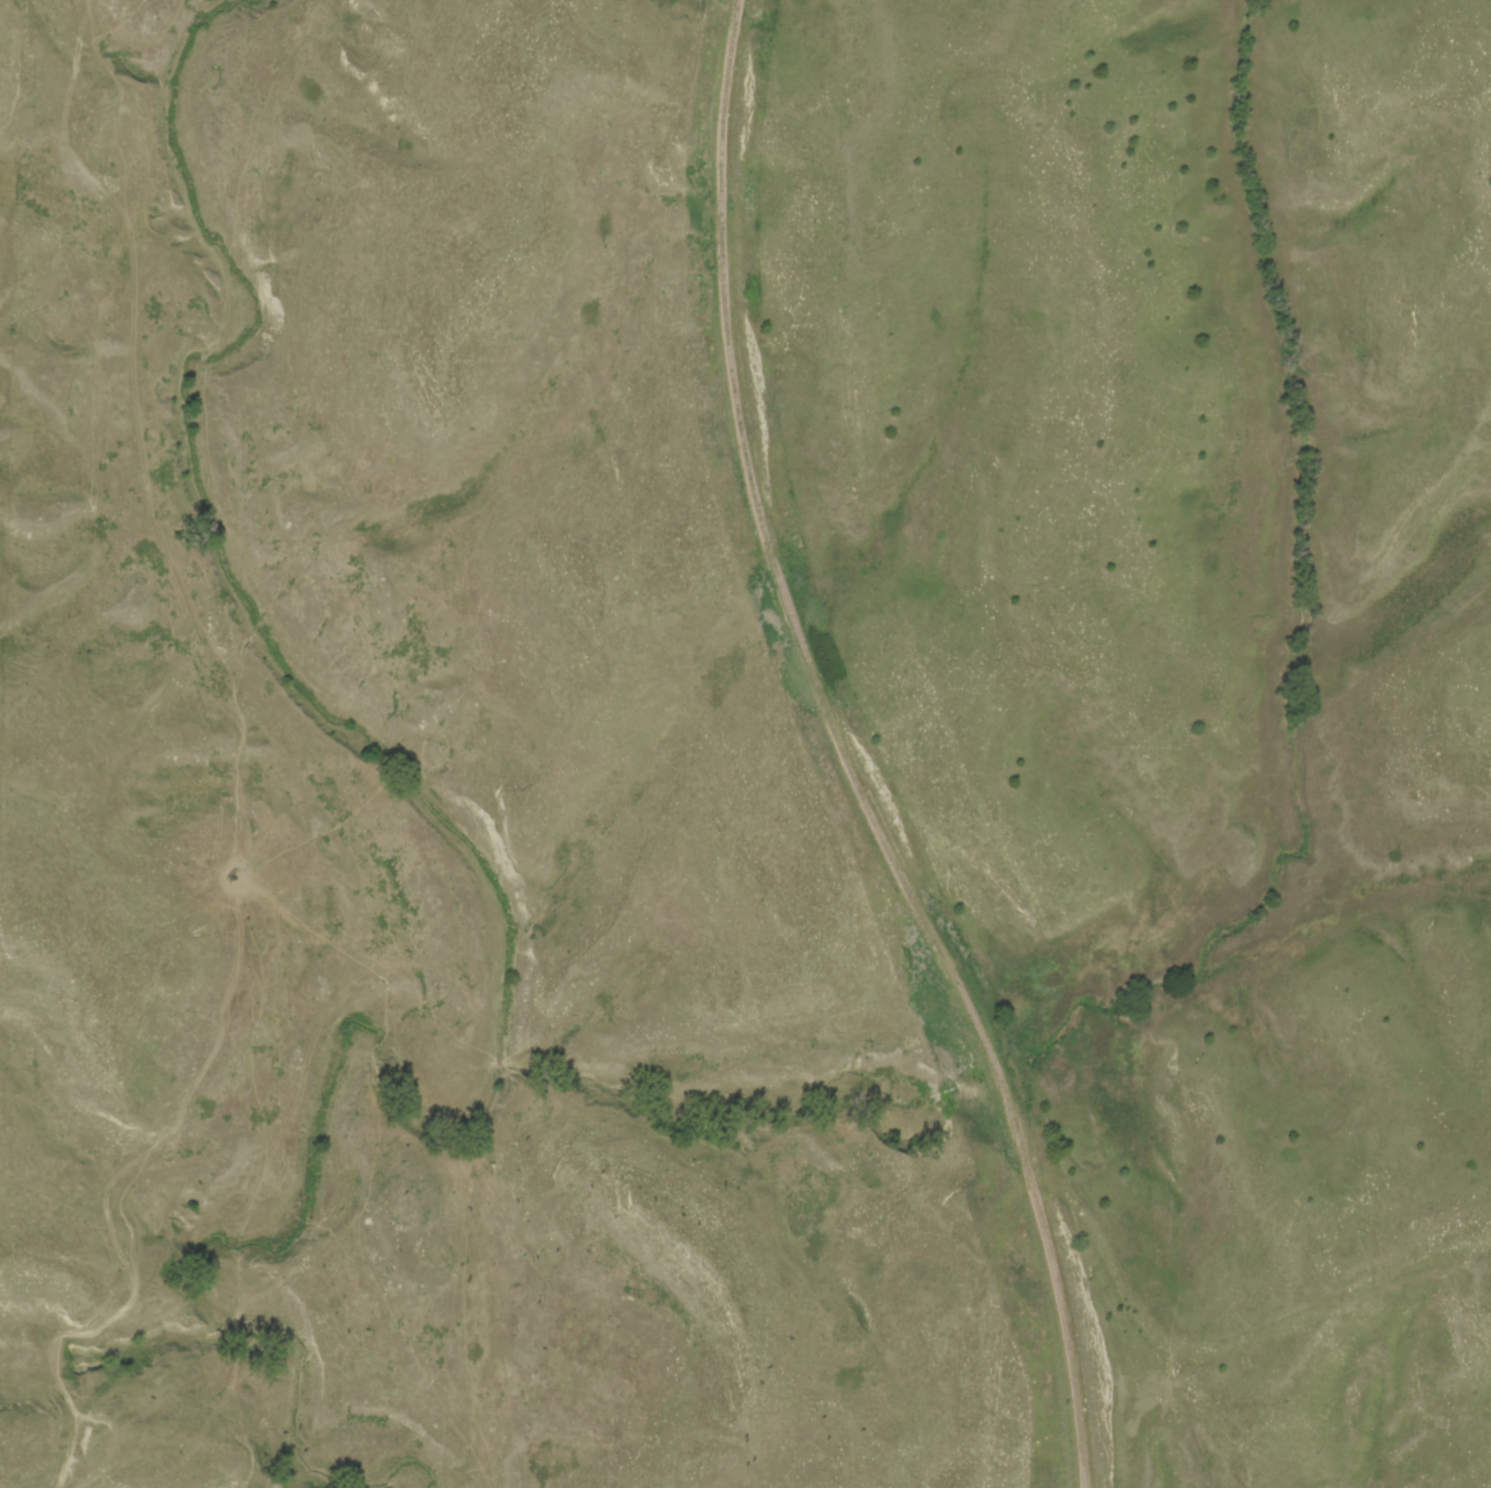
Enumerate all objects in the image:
railway: (851, 755)

